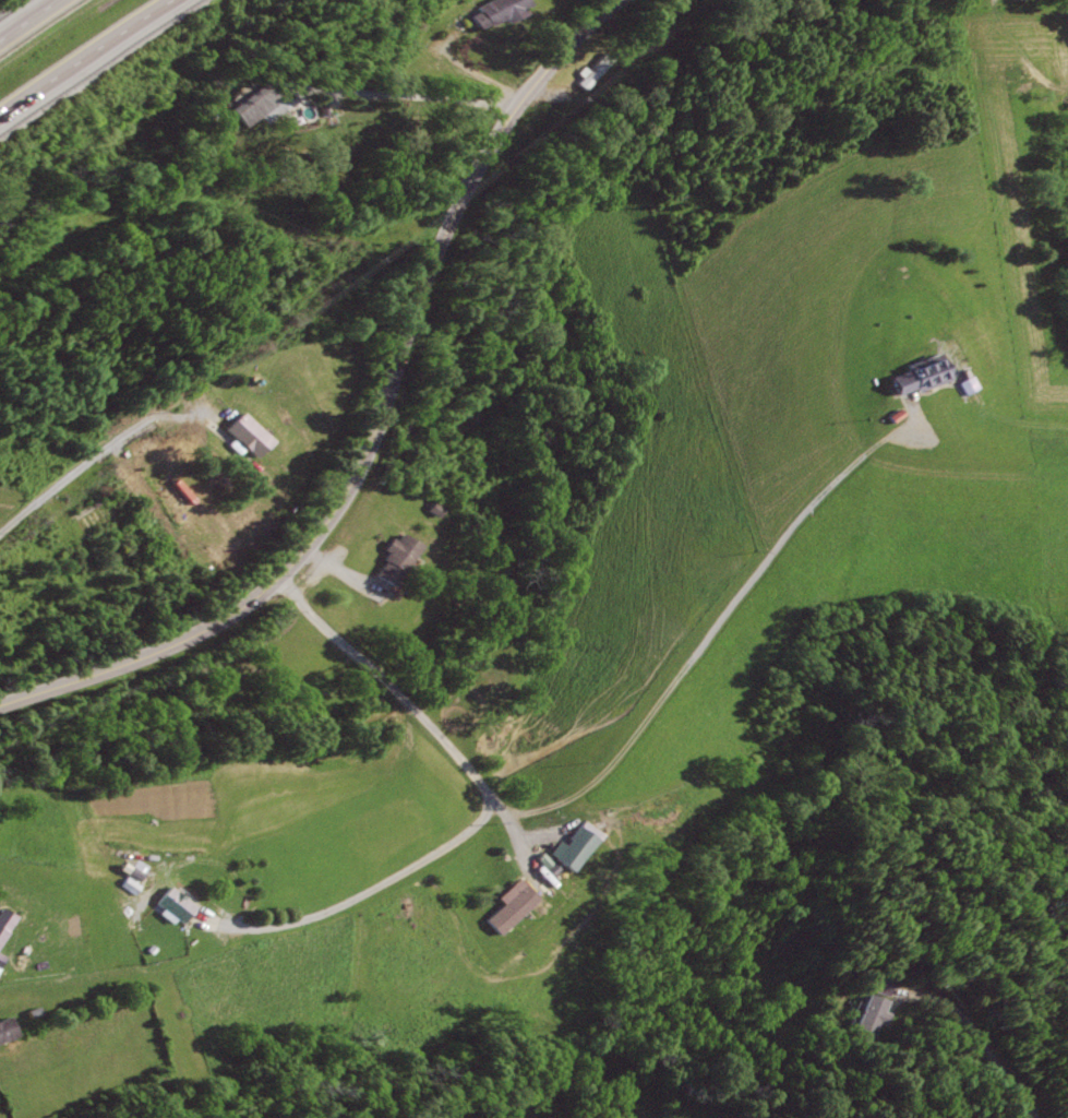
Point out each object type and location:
building: (504, 11)
road: (27, 17)
road: (89, 59)
road: (480, 70)
building: (596, 71)
road: (548, 93)
road: (409, 96)
building: (262, 105)
building: (919, 374)
building: (965, 385)
building: (898, 415)
road: (375, 420)
road: (904, 427)
building: (249, 433)
road: (95, 455)
building: (434, 510)
building: (397, 559)
road: (344, 569)
road: (693, 652)
road: (400, 698)
road: (519, 845)
building: (575, 846)
building: (552, 864)
building: (125, 877)
road: (341, 901)
building: (173, 903)
building: (515, 908)
building: (4, 920)
building: (1, 959)
building: (876, 985)
building: (869, 1016)
building: (10, 1027)
road: (969, 1034)
building: (821, 1045)

